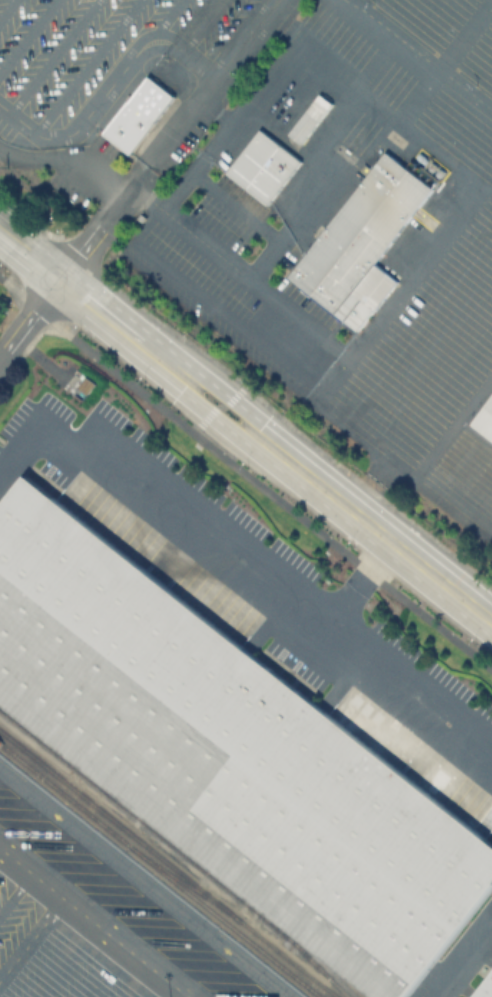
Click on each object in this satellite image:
road: (6, 8)
road: (164, 23)
road: (199, 25)
road: (27, 36)
road: (299, 44)
road: (52, 57)
road: (88, 66)
road: (213, 82)
road: (110, 90)
building: (140, 116)
building: (311, 120)
building: (264, 167)
road: (105, 223)
road: (264, 229)
road: (207, 242)
building: (362, 243)
road: (189, 287)
road: (87, 300)
road: (30, 317)
road: (365, 333)
road: (229, 397)
road: (219, 407)
road: (212, 416)
building: (485, 420)
road: (245, 474)
road: (367, 486)
road: (379, 533)
road: (381, 559)
road: (248, 574)
road: (346, 603)
building: (229, 753)
railway: (175, 850)
railway: (166, 865)
railway: (157, 872)
railway: (182, 885)
road: (88, 926)
road: (465, 962)
building: (487, 990)

